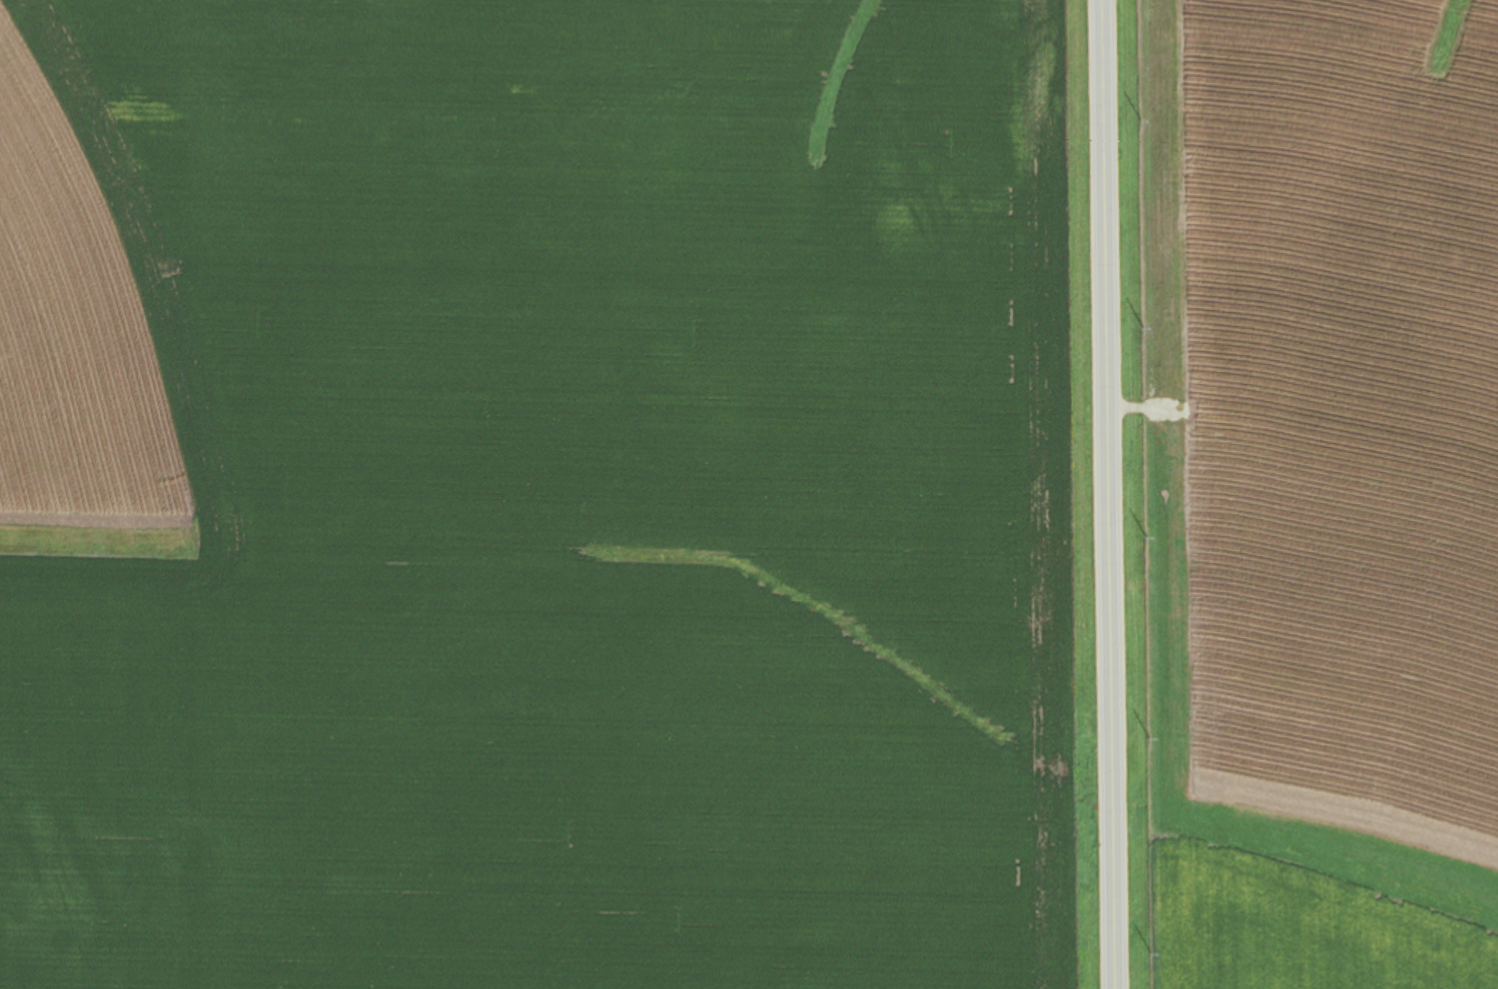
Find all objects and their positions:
road: (1106, 494)

